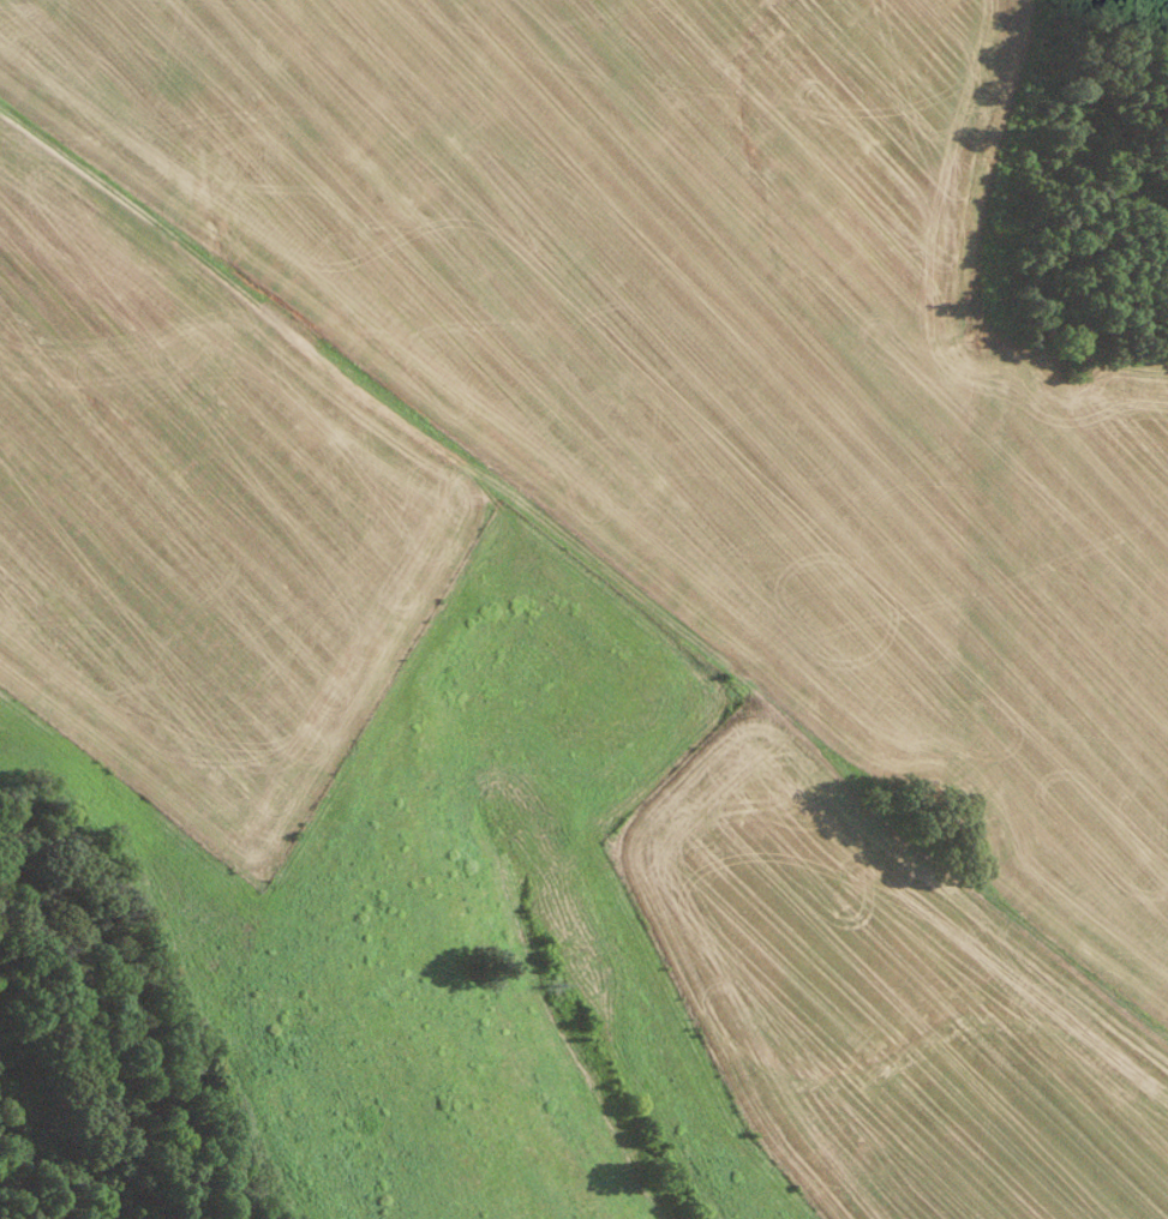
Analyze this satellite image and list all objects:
road: (371, 401)
crop: (591, 602)

